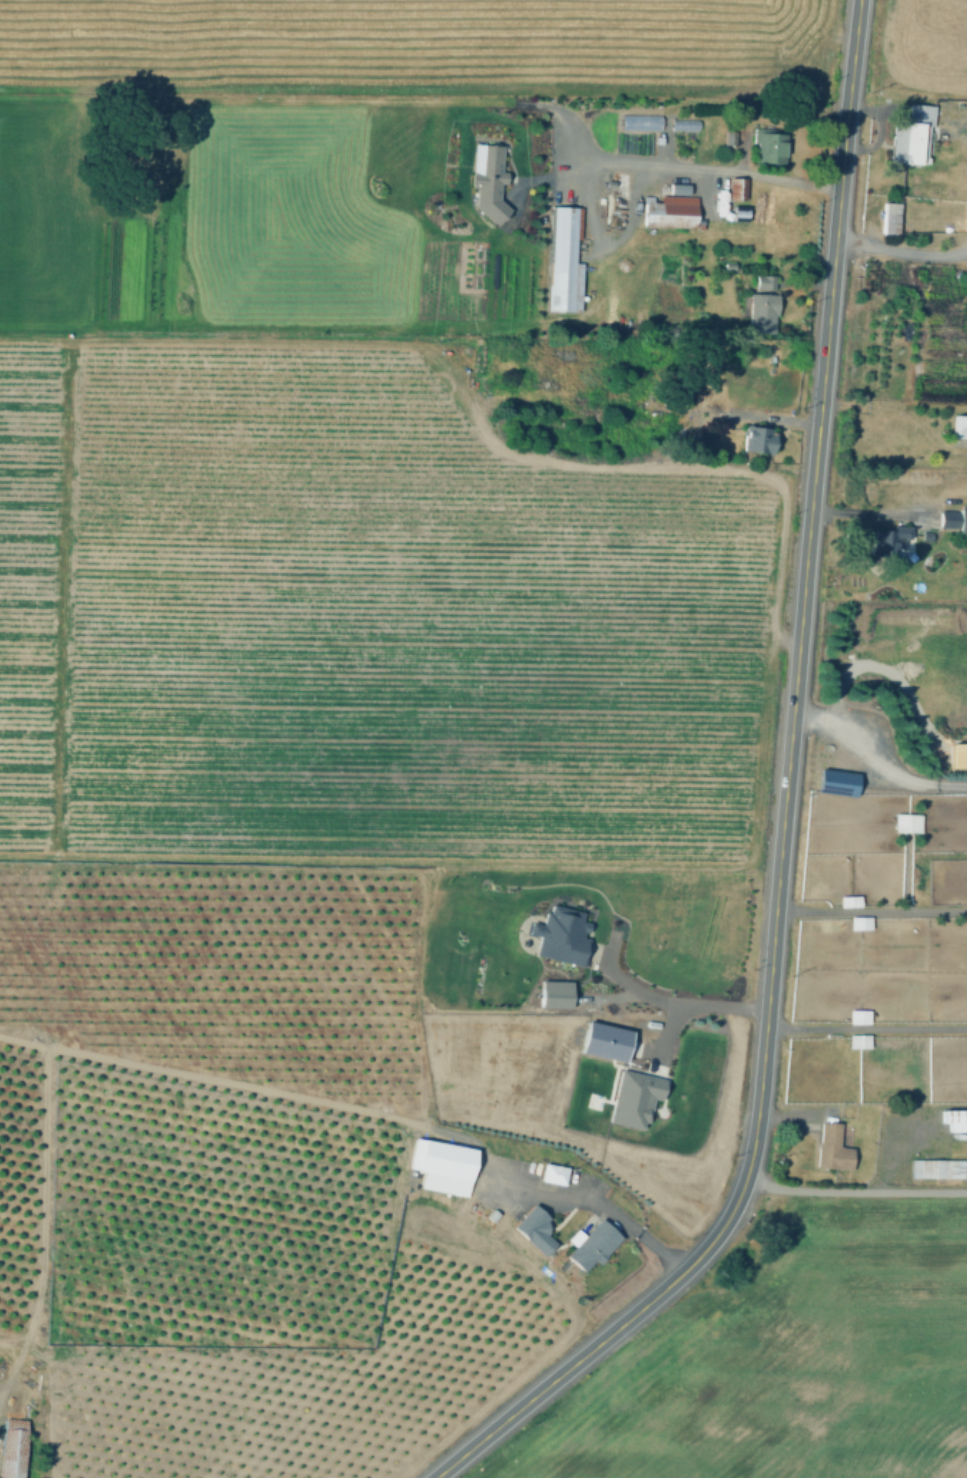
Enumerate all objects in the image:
crop: (925, 43)
road: (257, 98)
road: (560, 113)
building: (920, 116)
building: (639, 121)
road: (963, 129)
building: (731, 138)
building: (770, 144)
building: (913, 146)
road: (665, 163)
building: (486, 179)
building: (739, 188)
building: (669, 211)
crop: (43, 218)
building: (890, 223)
road: (605, 245)
road: (966, 250)
road: (901, 252)
building: (565, 261)
building: (766, 281)
building: (762, 311)
road: (740, 413)
road: (900, 413)
road: (469, 420)
building: (961, 426)
building: (760, 438)
road: (872, 514)
building: (955, 518)
building: (888, 540)
building: (957, 753)
road: (875, 762)
building: (838, 782)
road: (784, 807)
building: (904, 821)
road: (904, 874)
building: (848, 900)
road: (871, 909)
building: (858, 921)
building: (559, 934)
building: (553, 993)
road: (607, 994)
road: (663, 1000)
building: (857, 1016)
road: (867, 1026)
building: (603, 1040)
building: (858, 1040)
road: (662, 1042)
road: (260, 1092)
building: (632, 1097)
building: (954, 1122)
building: (834, 1149)
road: (896, 1151)
building: (442, 1162)
building: (936, 1171)
building: (552, 1178)
road: (855, 1188)
road: (598, 1201)
building: (532, 1228)
building: (591, 1245)
crop: (787, 1359)
building: (15, 1447)

